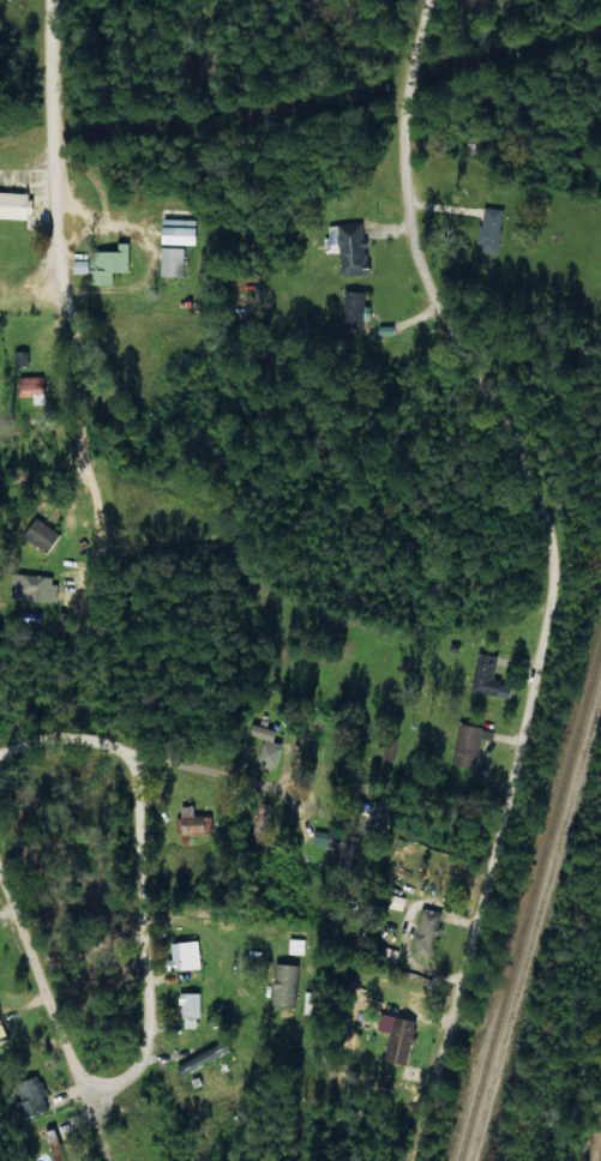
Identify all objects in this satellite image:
building: (13, 205)
building: (175, 230)
building: (489, 231)
road: (90, 243)
building: (351, 248)
building: (169, 260)
building: (102, 264)
building: (351, 309)
road: (512, 453)
building: (41, 535)
building: (31, 586)
building: (488, 678)
road: (172, 722)
building: (468, 745)
building: (266, 747)
building: (389, 748)
building: (193, 823)
building: (337, 846)
road: (132, 896)
railway: (531, 906)
railway: (535, 924)
building: (425, 932)
building: (295, 946)
building: (182, 956)
building: (283, 985)
building: (188, 1009)
road: (56, 1010)
building: (2, 1033)
building: (396, 1037)
building: (202, 1058)
building: (31, 1096)
building: (54, 1144)
railway: (599, 1153)

